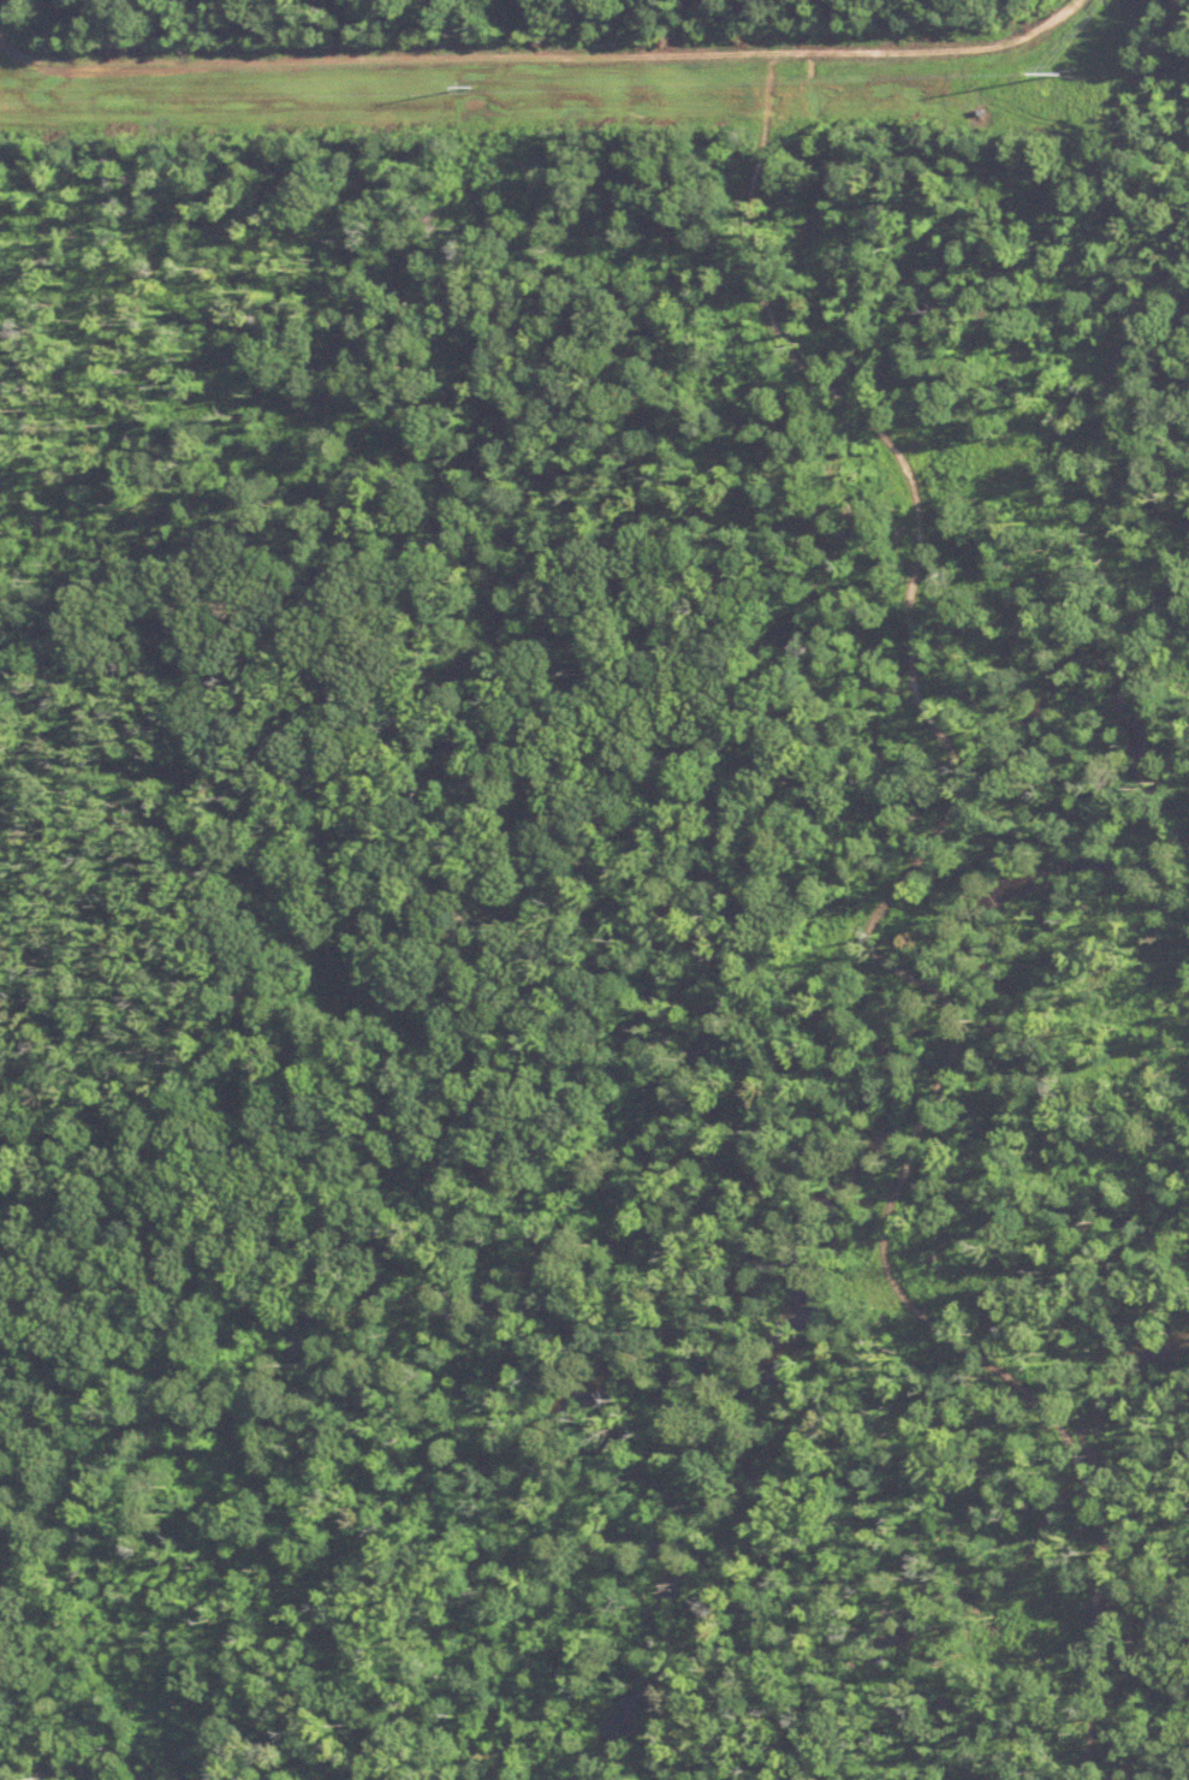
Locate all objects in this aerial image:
power tower: (1052, 73)
power tower: (466, 83)

